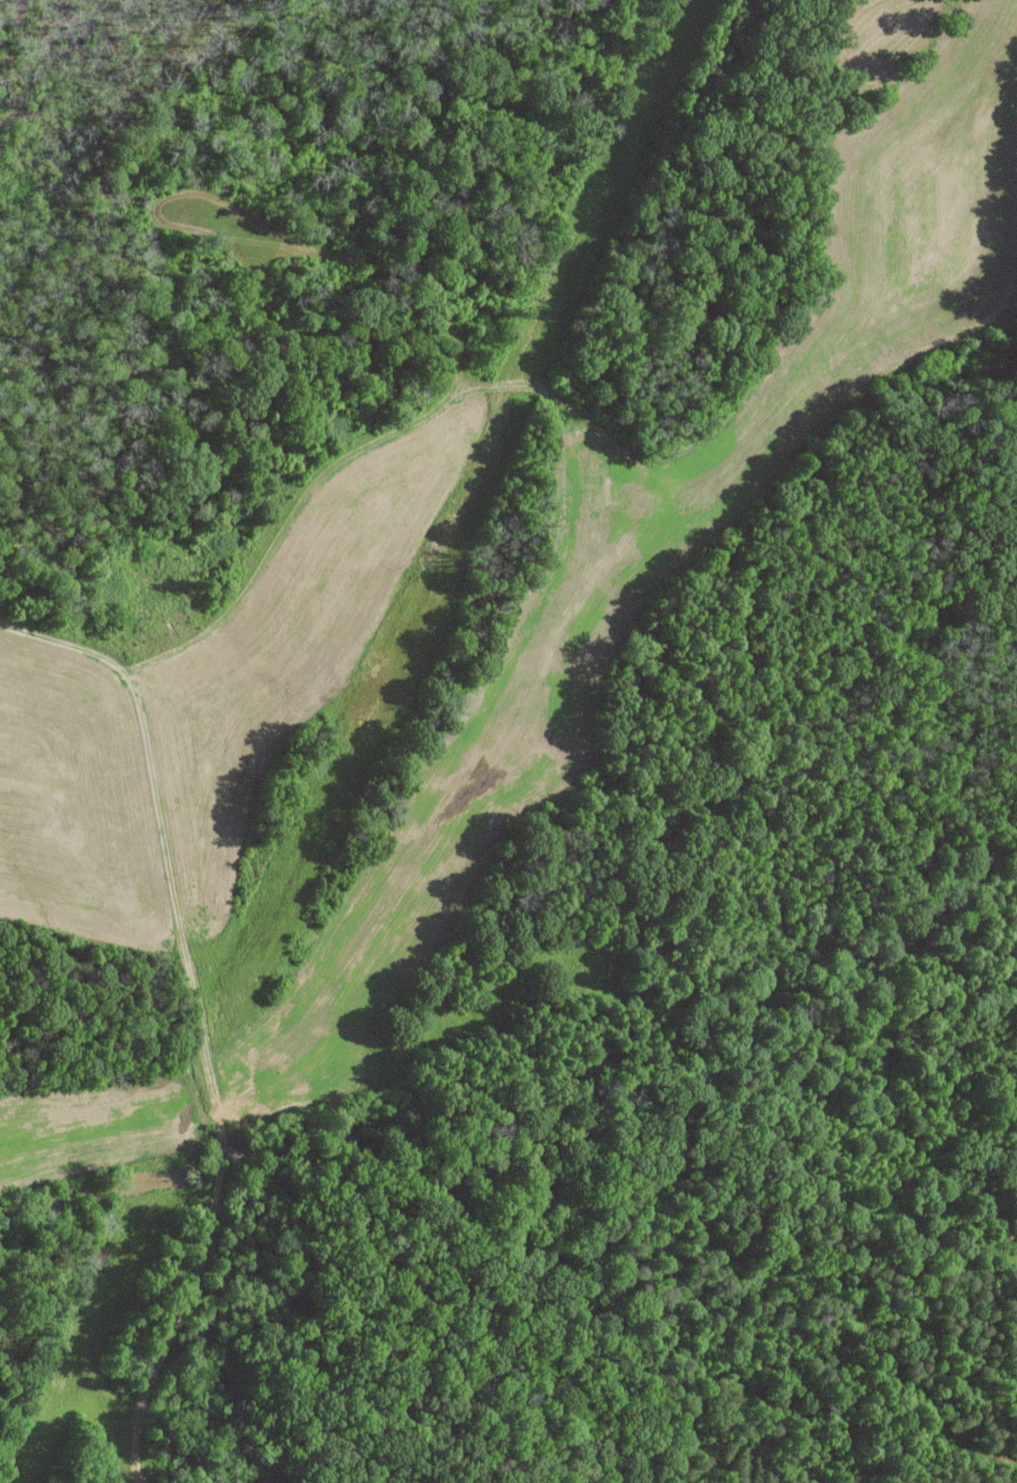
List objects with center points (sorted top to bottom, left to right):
road: (87, 974)

